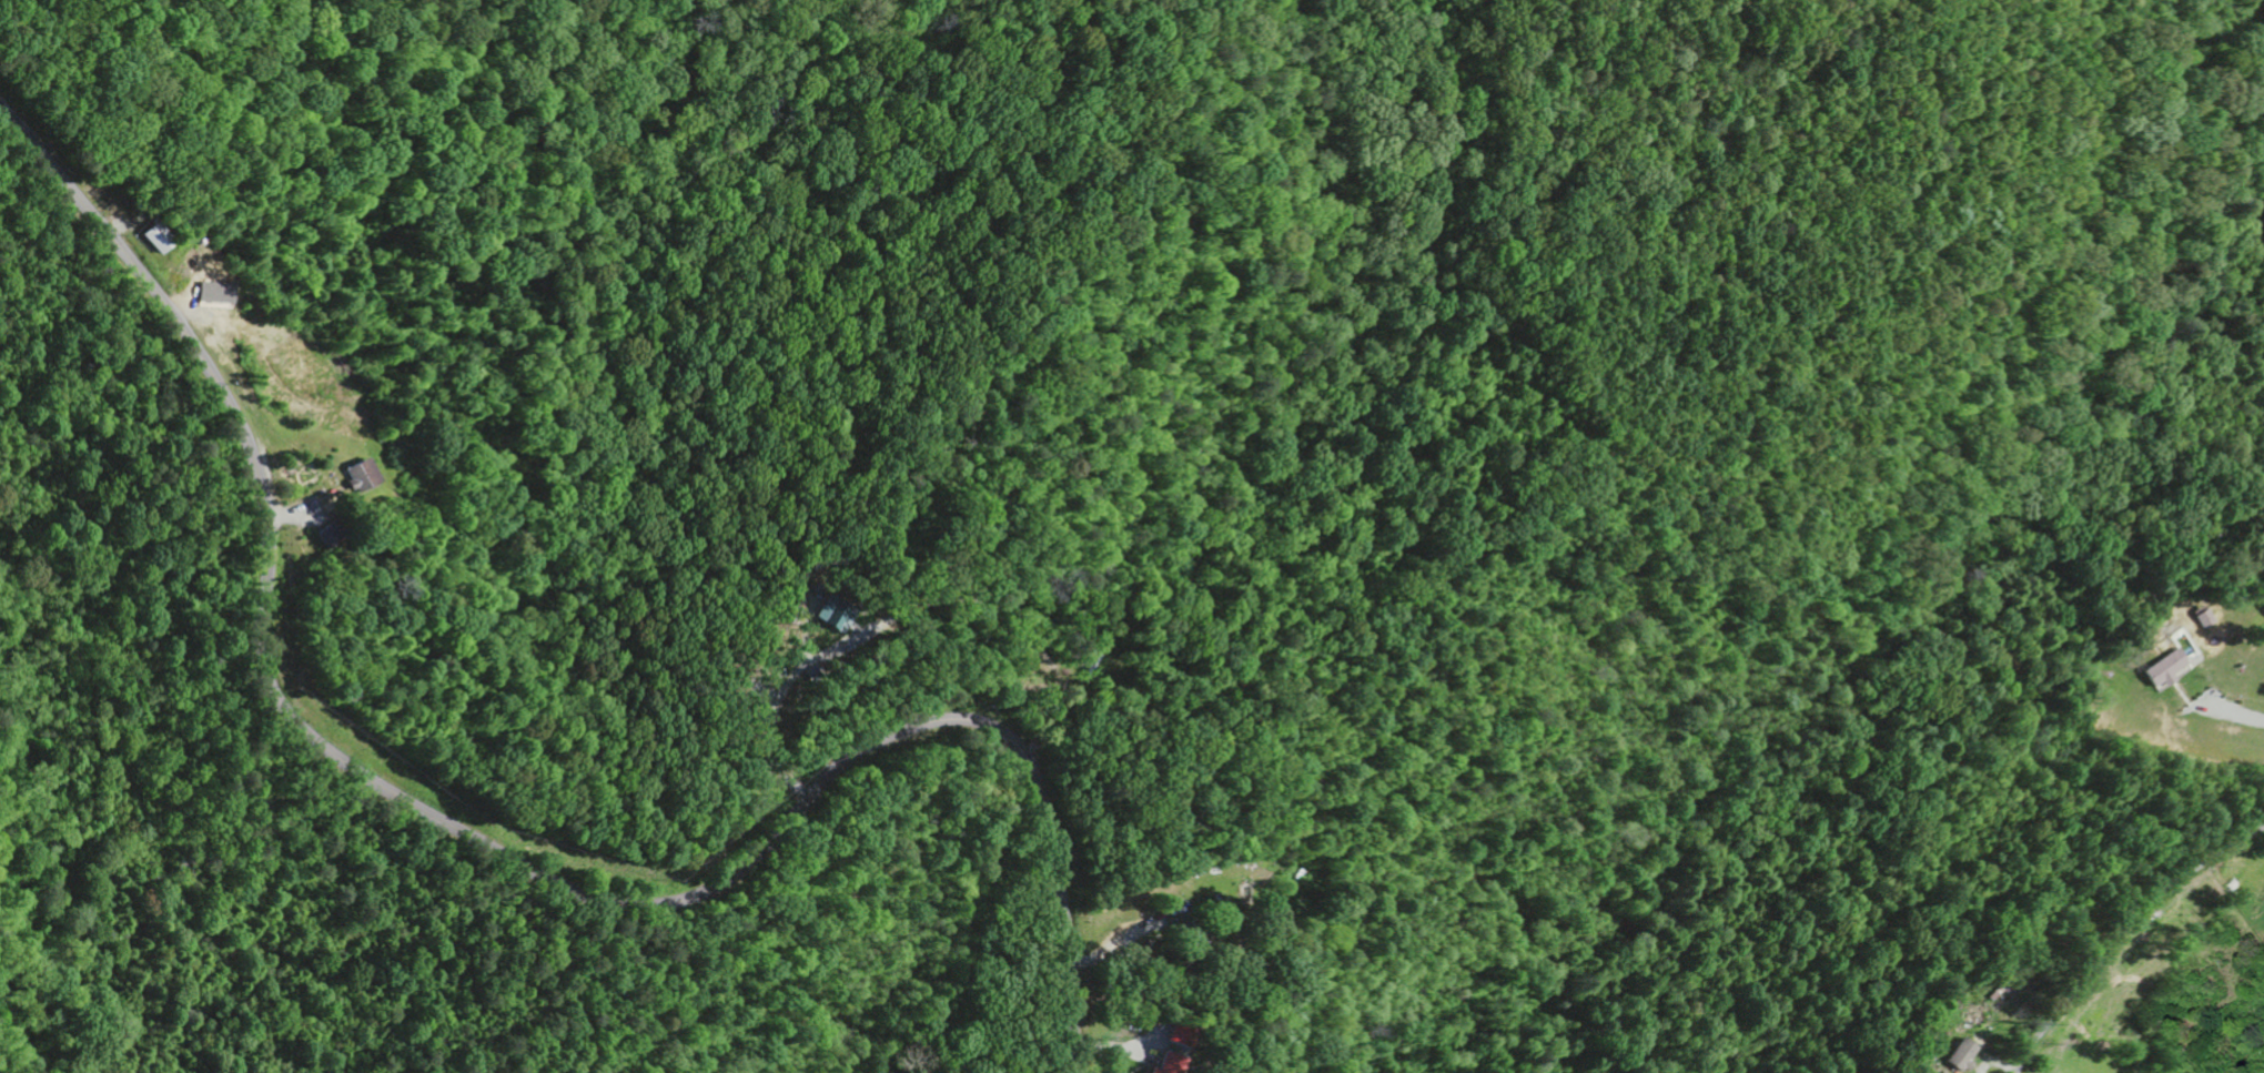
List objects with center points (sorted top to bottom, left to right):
road: (799, 437)
building: (363, 476)
building: (333, 534)
building: (836, 611)
building: (2197, 619)
building: (2161, 669)
road: (485, 848)
road: (2122, 931)
building: (1186, 1035)
building: (1958, 1056)
building: (1176, 1062)

